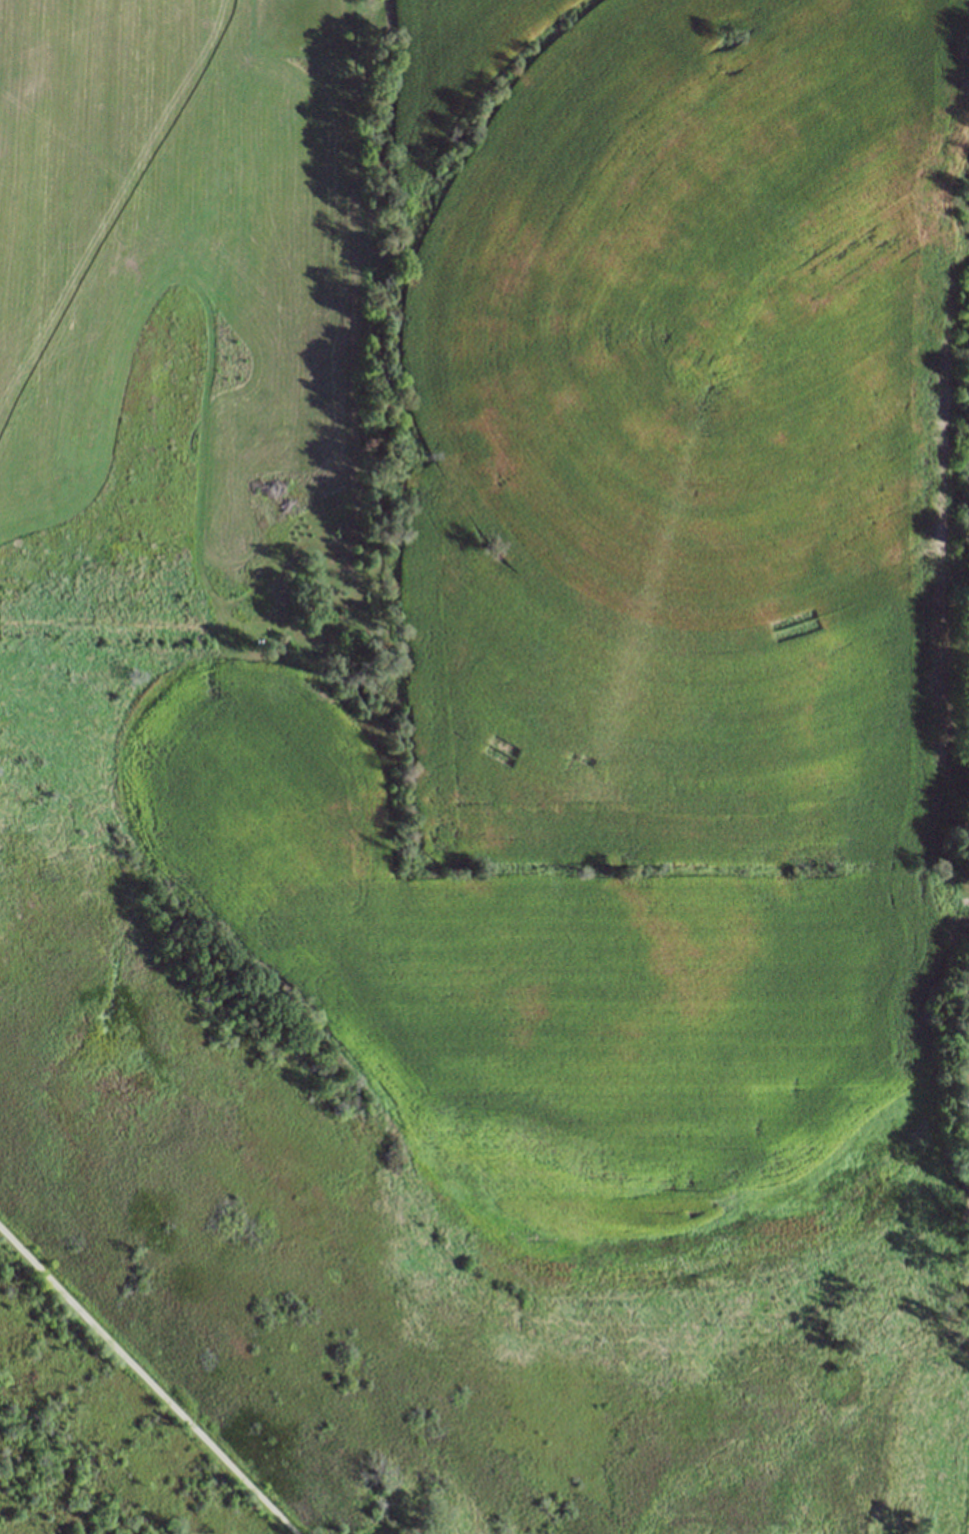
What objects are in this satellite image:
road: (146, 1381)

